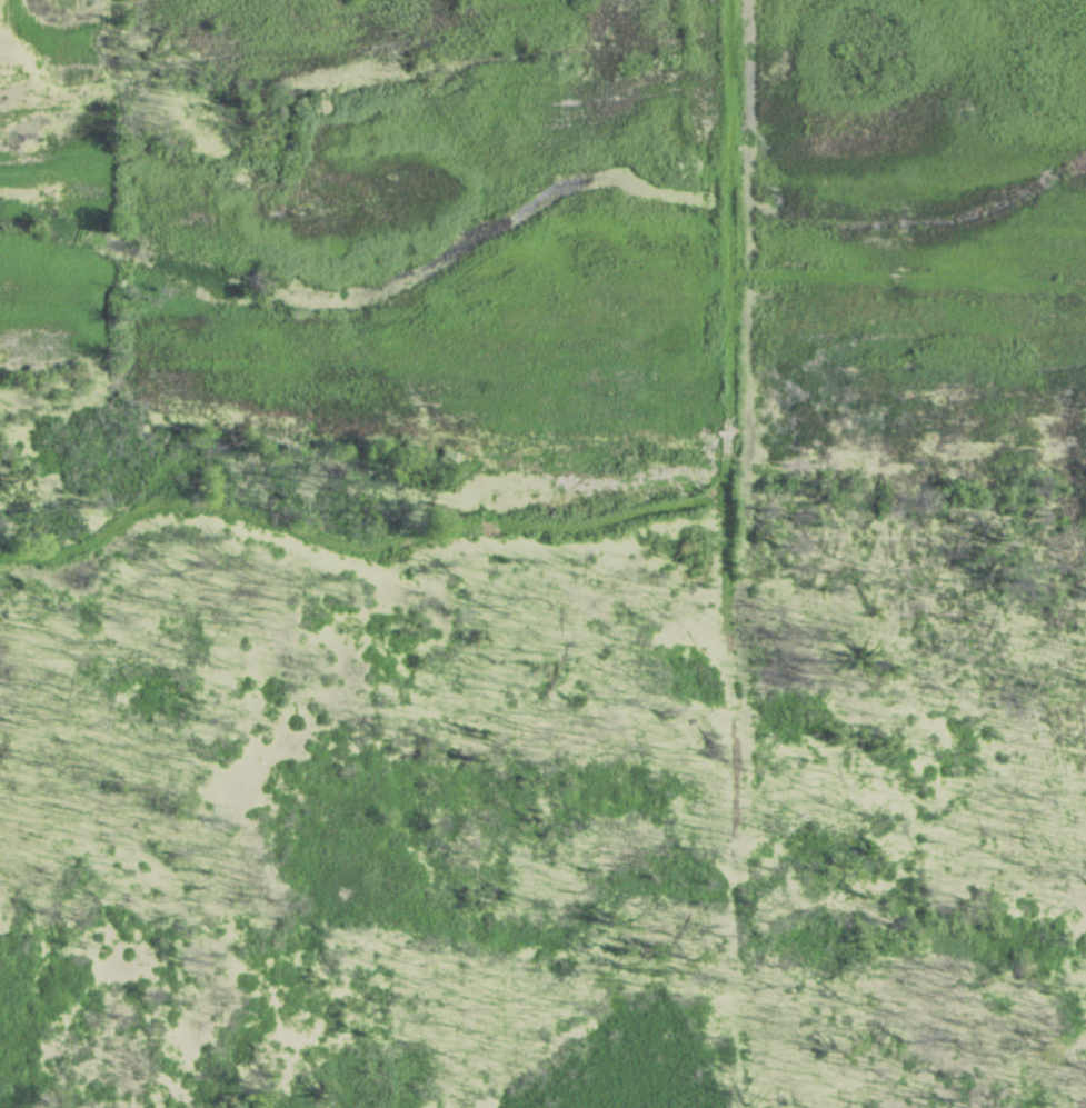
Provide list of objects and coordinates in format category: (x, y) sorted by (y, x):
road: (588, 528)

